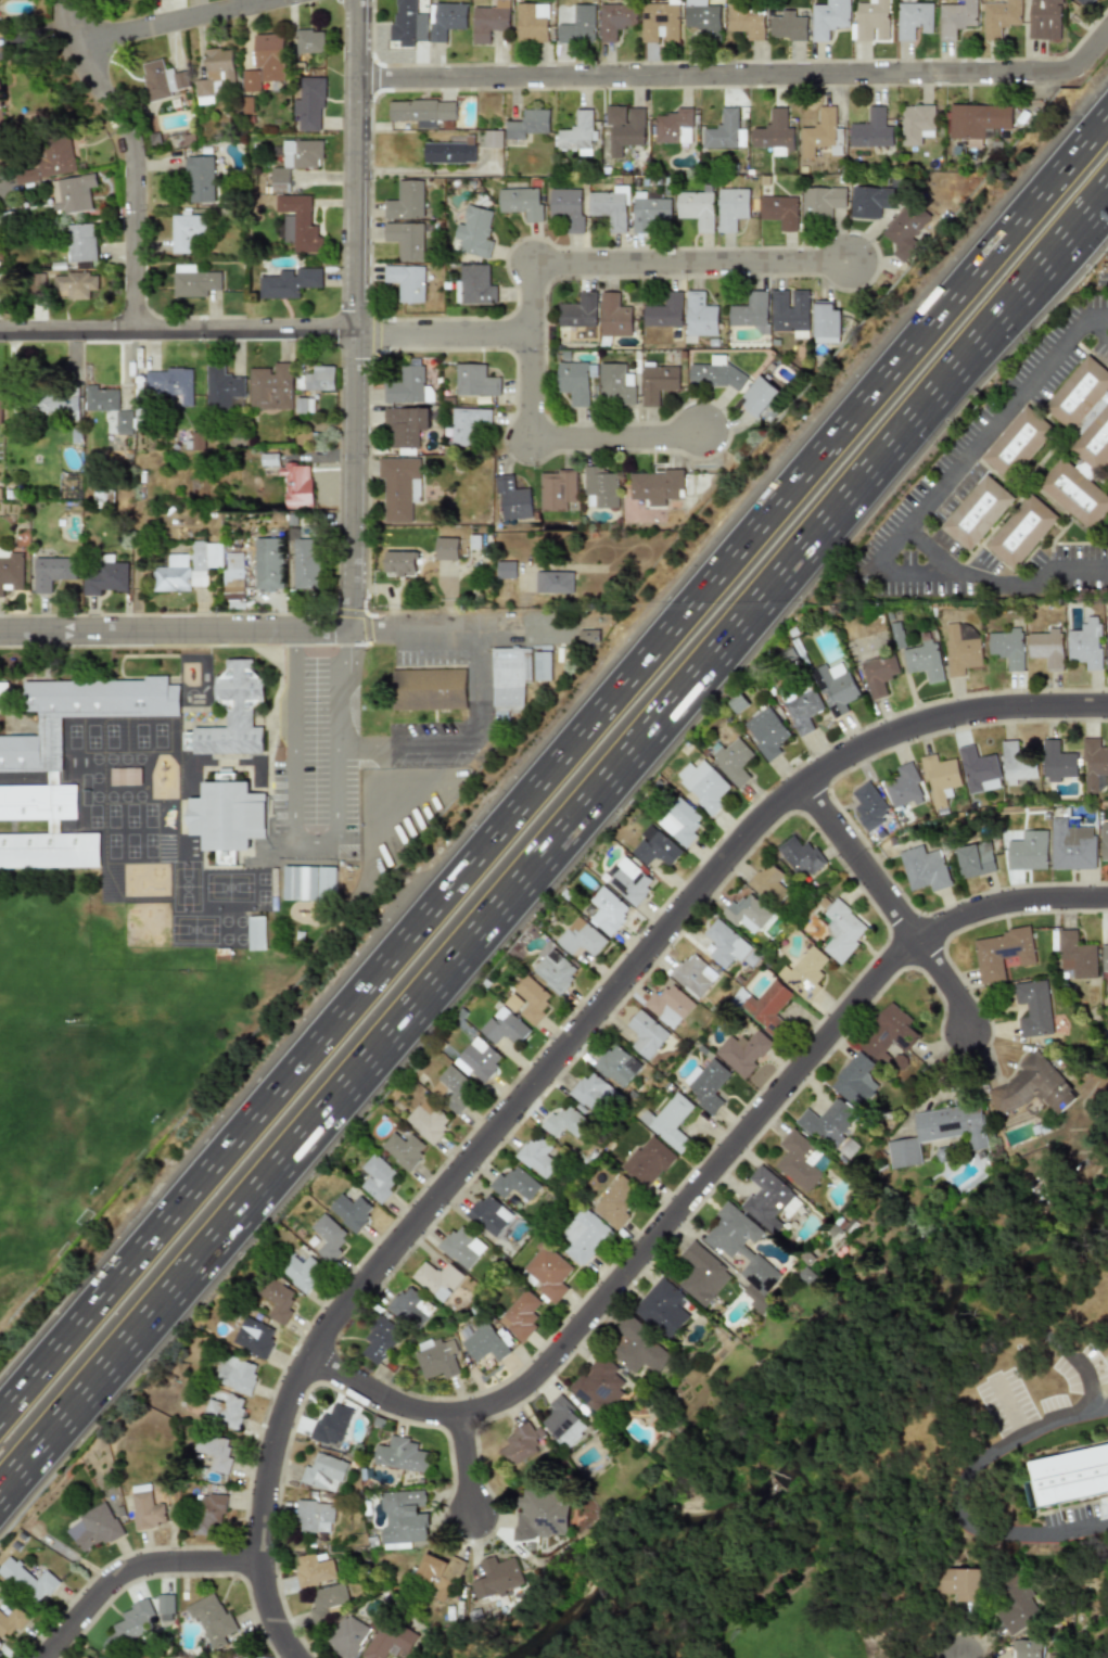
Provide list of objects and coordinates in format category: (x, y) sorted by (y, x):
building: (1084, 3)
building: (999, 16)
building: (700, 17)
building: (869, 17)
building: (956, 17)
building: (446, 18)
building: (829, 18)
building: (913, 18)
road: (186, 20)
building: (1045, 20)
building: (406, 21)
building: (489, 21)
building: (614, 21)
building: (746, 21)
building: (660, 22)
building: (531, 23)
building: (577, 24)
building: (787, 25)
building: (309, 40)
road: (1092, 47)
building: (266, 62)
road: (717, 73)
building: (215, 74)
building: (163, 80)
building: (3, 101)
building: (311, 103)
building: (423, 111)
building: (977, 122)
building: (526, 124)
building: (916, 124)
building: (624, 125)
building: (674, 126)
building: (723, 130)
building: (871, 130)
building: (819, 132)
building: (578, 135)
building: (775, 135)
building: (493, 139)
building: (449, 152)
road: (132, 155)
building: (58, 158)
building: (297, 160)
building: (29, 176)
building: (200, 180)
road: (11, 192)
building: (75, 194)
building: (406, 200)
building: (822, 201)
building: (870, 201)
building: (523, 202)
building: (568, 207)
building: (610, 207)
building: (696, 208)
building: (731, 208)
building: (779, 211)
road: (1098, 211)
building: (649, 212)
building: (294, 220)
building: (186, 230)
building: (905, 230)
building: (472, 232)
building: (405, 240)
building: (82, 243)
road: (654, 266)
building: (193, 282)
building: (289, 282)
building: (406, 282)
building: (38, 283)
building: (76, 284)
building: (473, 285)
building: (578, 309)
building: (750, 311)
building: (663, 313)
building: (789, 313)
road: (358, 314)
road: (1097, 315)
building: (614, 316)
building: (699, 316)
building: (826, 322)
road: (1095, 330)
road: (265, 334)
building: (716, 374)
building: (475, 380)
building: (659, 381)
building: (576, 382)
building: (169, 384)
building: (616, 384)
building: (406, 385)
building: (269, 386)
building: (313, 386)
building: (221, 387)
building: (1080, 392)
building: (757, 397)
building: (55, 403)
building: (107, 406)
building: (0, 410)
building: (405, 424)
building: (468, 424)
road: (565, 435)
road: (982, 437)
building: (1097, 441)
building: (195, 442)
building: (1020, 445)
building: (1084, 469)
building: (296, 485)
building: (653, 486)
building: (398, 487)
building: (599, 488)
building: (557, 489)
building: (1079, 494)
building: (511, 498)
building: (980, 514)
building: (1022, 534)
building: (446, 549)
building: (272, 564)
building: (305, 564)
building: (399, 564)
building: (10, 567)
building: (188, 567)
road: (912, 572)
building: (52, 573)
building: (105, 577)
road: (998, 579)
building: (553, 582)
building: (234, 590)
road: (268, 629)
building: (588, 637)
building: (1084, 643)
building: (1106, 645)
building: (1006, 647)
building: (959, 648)
building: (1045, 648)
building: (922, 659)
building: (542, 666)
building: (878, 675)
building: (508, 678)
building: (833, 687)
building: (429, 689)
building: (5, 696)
building: (799, 707)
building: (238, 711)
building: (765, 732)
parking lot: (430, 743)
road: (461, 743)
road: (553, 761)
building: (733, 761)
building: (1056, 762)
building: (1015, 764)
building: (1093, 764)
building: (977, 770)
building: (56, 778)
building: (938, 779)
parking lot: (314, 782)
building: (703, 785)
building: (867, 806)
building: (229, 815)
building: (678, 821)
road: (313, 840)
building: (1103, 841)
building: (1070, 846)
building: (654, 847)
building: (1027, 851)
building: (800, 856)
road: (544, 859)
building: (973, 859)
building: (922, 868)
building: (629, 882)
building: (308, 883)
building: (768, 884)
road: (891, 904)
building: (606, 910)
building: (746, 913)
building: (841, 930)
building: (256, 933)
building: (580, 938)
building: (724, 944)
building: (1001, 954)
building: (1075, 955)
building: (1104, 958)
building: (552, 968)
building: (803, 973)
building: (692, 974)
building: (531, 999)
building: (667, 1006)
building: (766, 1006)
building: (1032, 1008)
building: (502, 1026)
building: (645, 1034)
building: (886, 1034)
building: (741, 1051)
building: (477, 1059)
road: (552, 1064)
building: (615, 1066)
building: (853, 1080)
building: (704, 1084)
building: (1032, 1086)
building: (455, 1087)
building: (591, 1093)
building: (426, 1121)
building: (668, 1121)
building: (826, 1121)
building: (565, 1122)
building: (938, 1132)
park: (28, 1134)
building: (402, 1149)
building: (535, 1157)
building: (798, 1161)
building: (647, 1162)
road: (706, 1174)
building: (377, 1177)
building: (513, 1184)
building: (768, 1200)
building: (614, 1202)
building: (349, 1211)
building: (488, 1215)
building: (328, 1237)
building: (581, 1237)
building: (460, 1247)
building: (742, 1253)
building: (300, 1272)
building: (547, 1273)
building: (701, 1274)
building: (436, 1279)
building: (277, 1299)
building: (408, 1308)
building: (661, 1308)
building: (519, 1315)
building: (253, 1337)
building: (378, 1339)
building: (482, 1342)
building: (636, 1348)
building: (435, 1357)
building: (239, 1376)
building: (598, 1385)
building: (222, 1408)
building: (562, 1421)
building: (330, 1425)
building: (520, 1444)
building: (212, 1451)
building: (399, 1455)
road: (462, 1466)
building: (321, 1472)
building: (1069, 1477)
road: (968, 1479)
building: (1031, 1495)
building: (145, 1512)
building: (206, 1513)
building: (539, 1514)
building: (311, 1516)
building: (403, 1518)
building: (93, 1527)
road: (1087, 1528)
building: (310, 1570)
road: (133, 1571)
building: (436, 1574)
building: (494, 1577)
building: (26, 1580)
building: (959, 1583)
building: (324, 1602)
building: (1016, 1606)
building: (164, 1607)
park: (813, 1608)
building: (133, 1620)
building: (212, 1620)
building: (10, 1621)
building: (345, 1636)
building: (387, 1638)
building: (1026, 1649)
road: (958, 1657)

